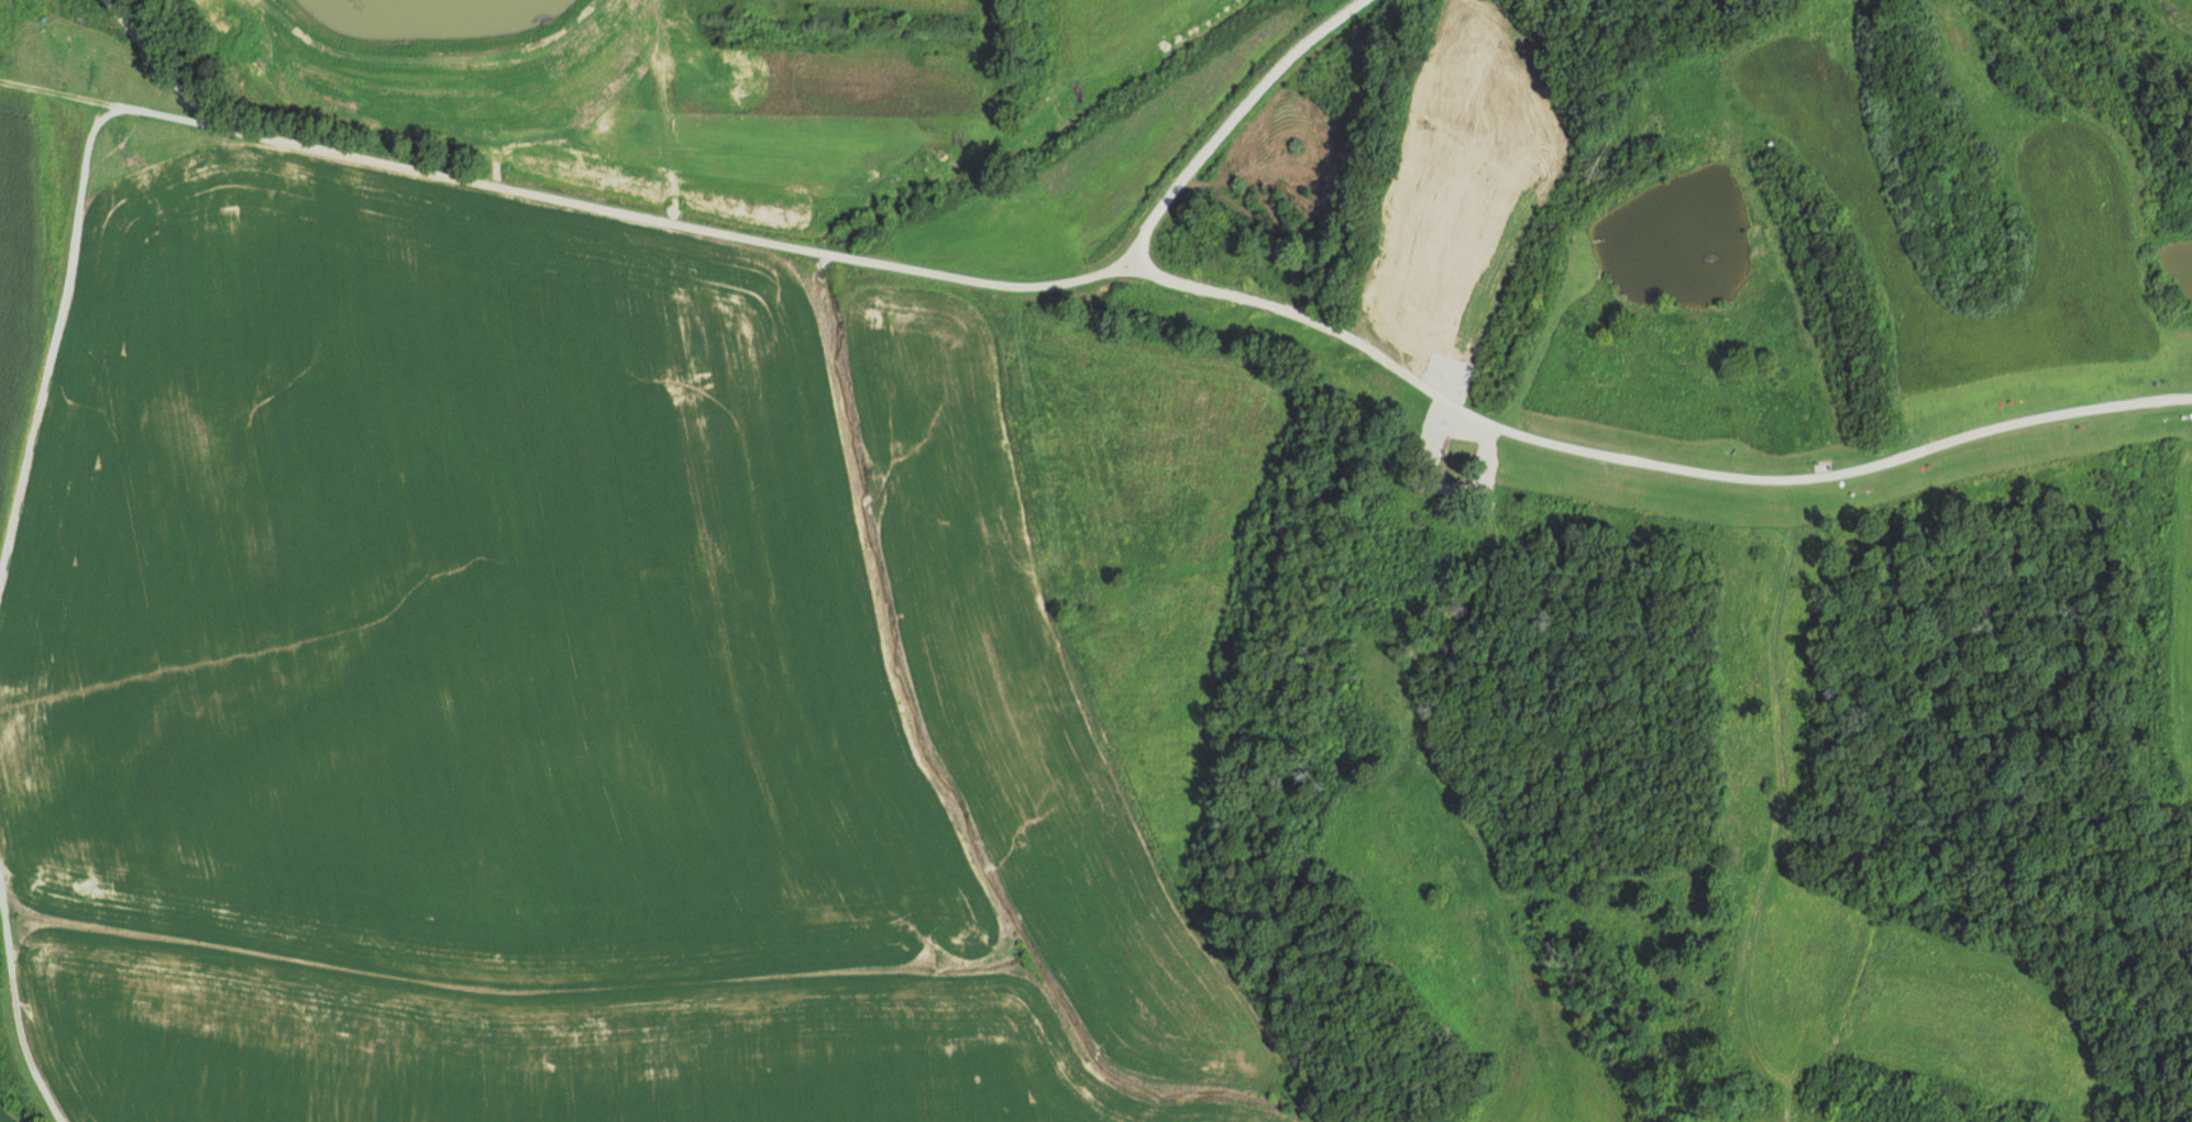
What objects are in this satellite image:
road: (789, 274)

